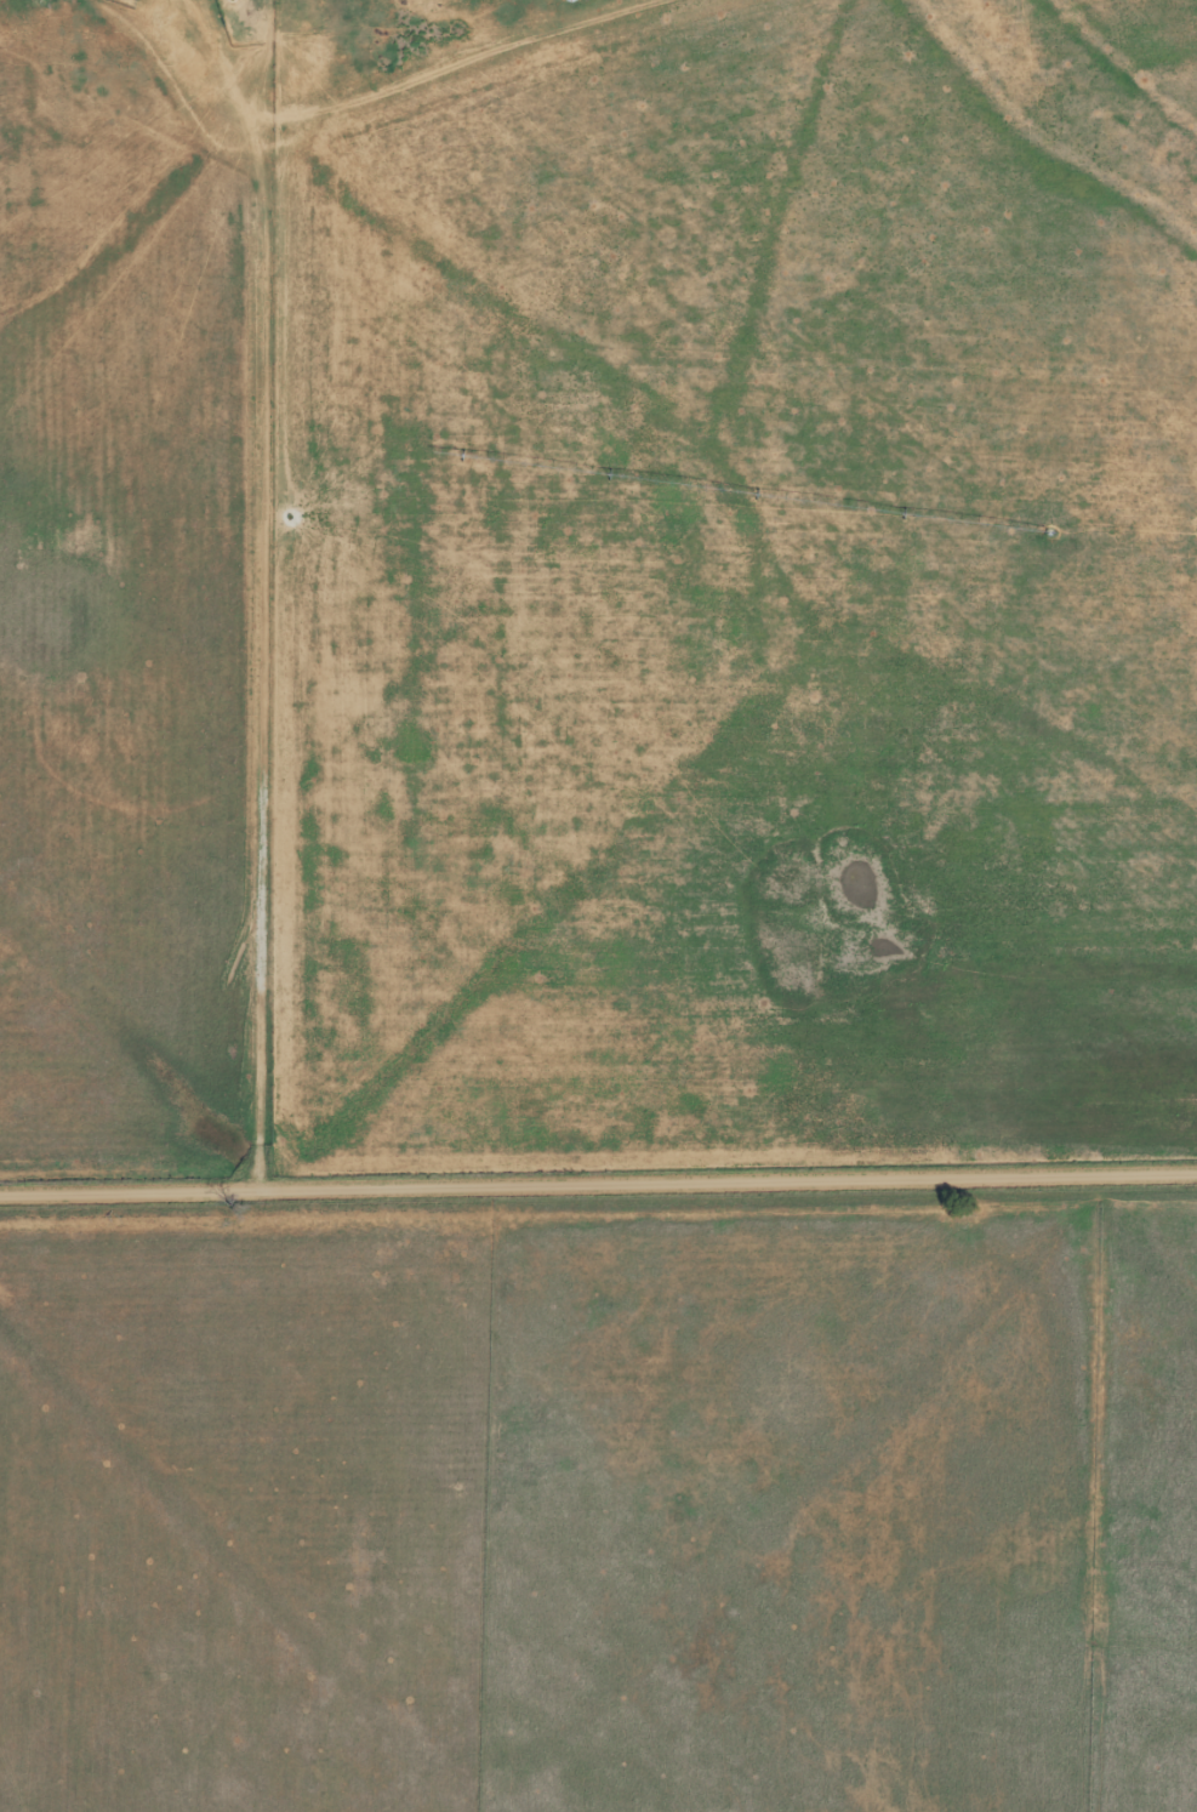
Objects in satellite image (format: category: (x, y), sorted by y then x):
building: (570, 0)
road: (401, 98)
road: (300, 639)
road: (598, 1183)

